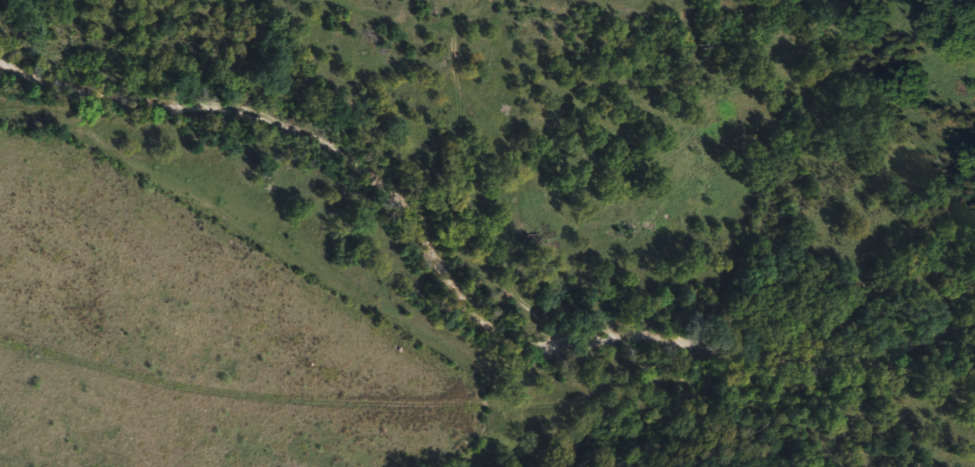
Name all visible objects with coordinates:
road: (816, 287)

